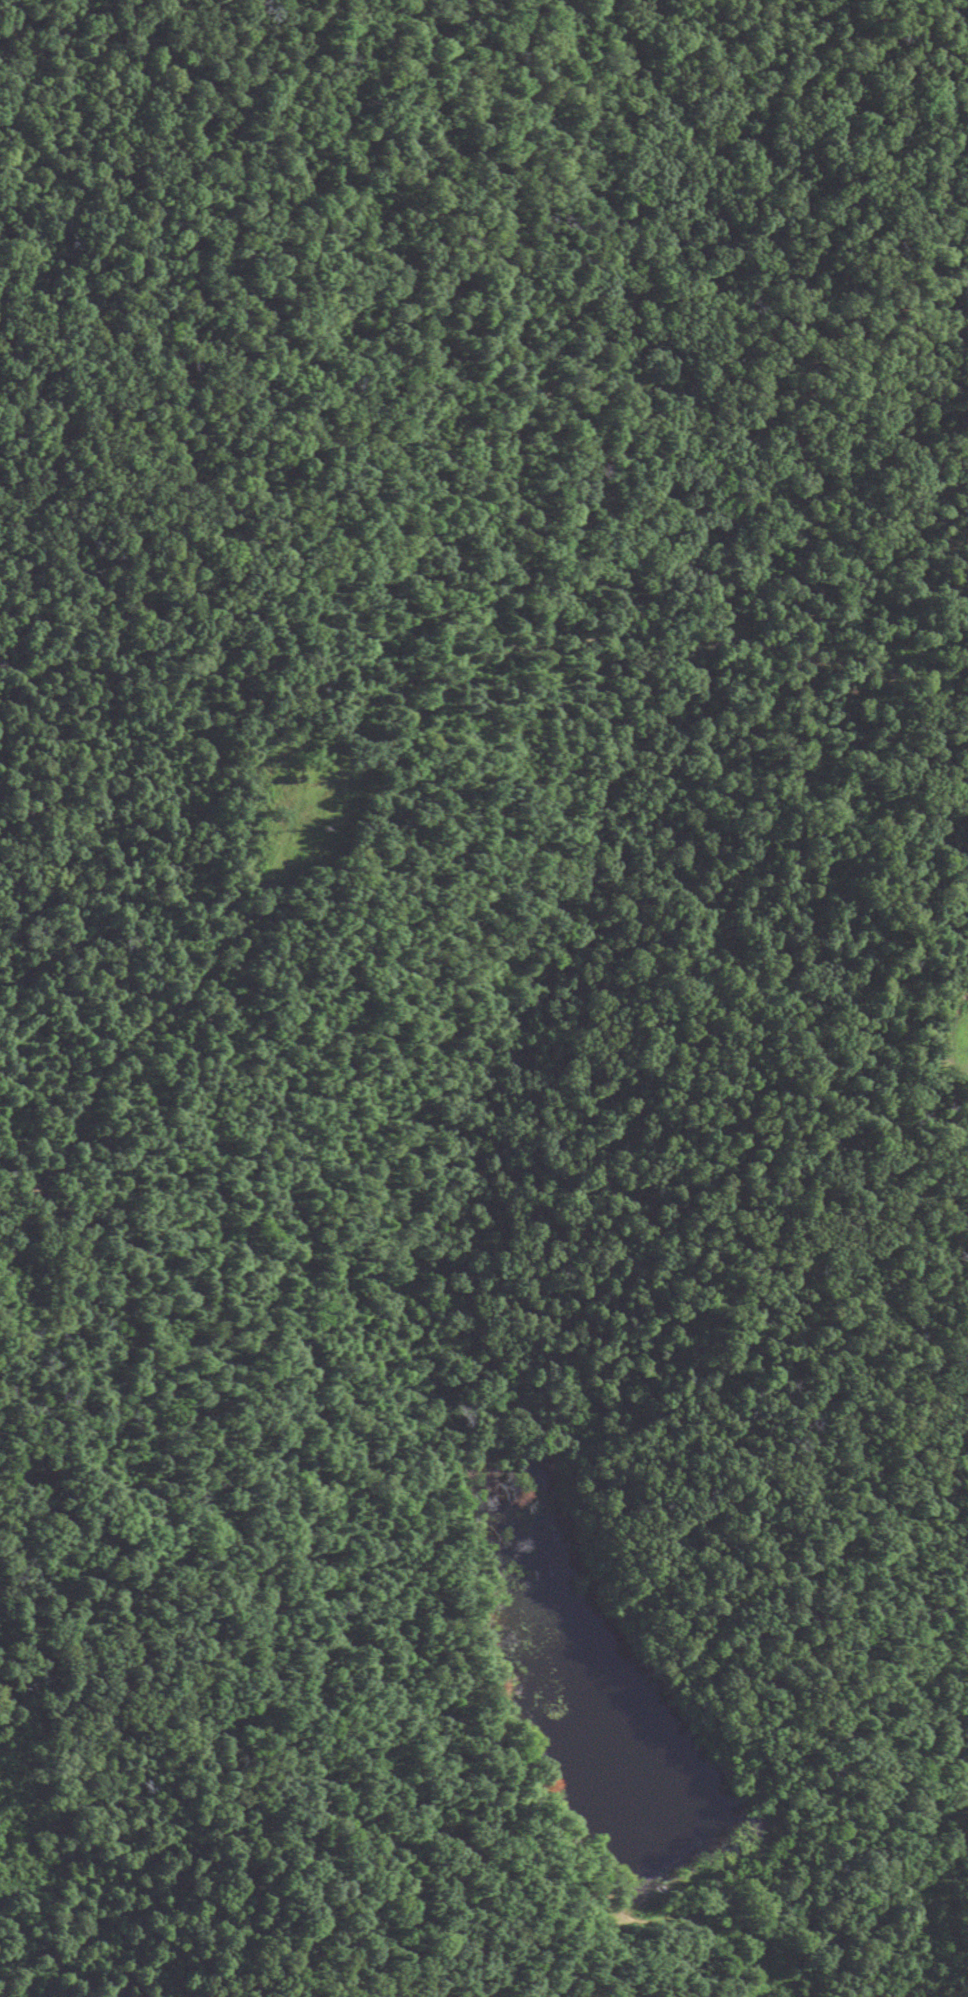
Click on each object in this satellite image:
road: (807, 1927)

